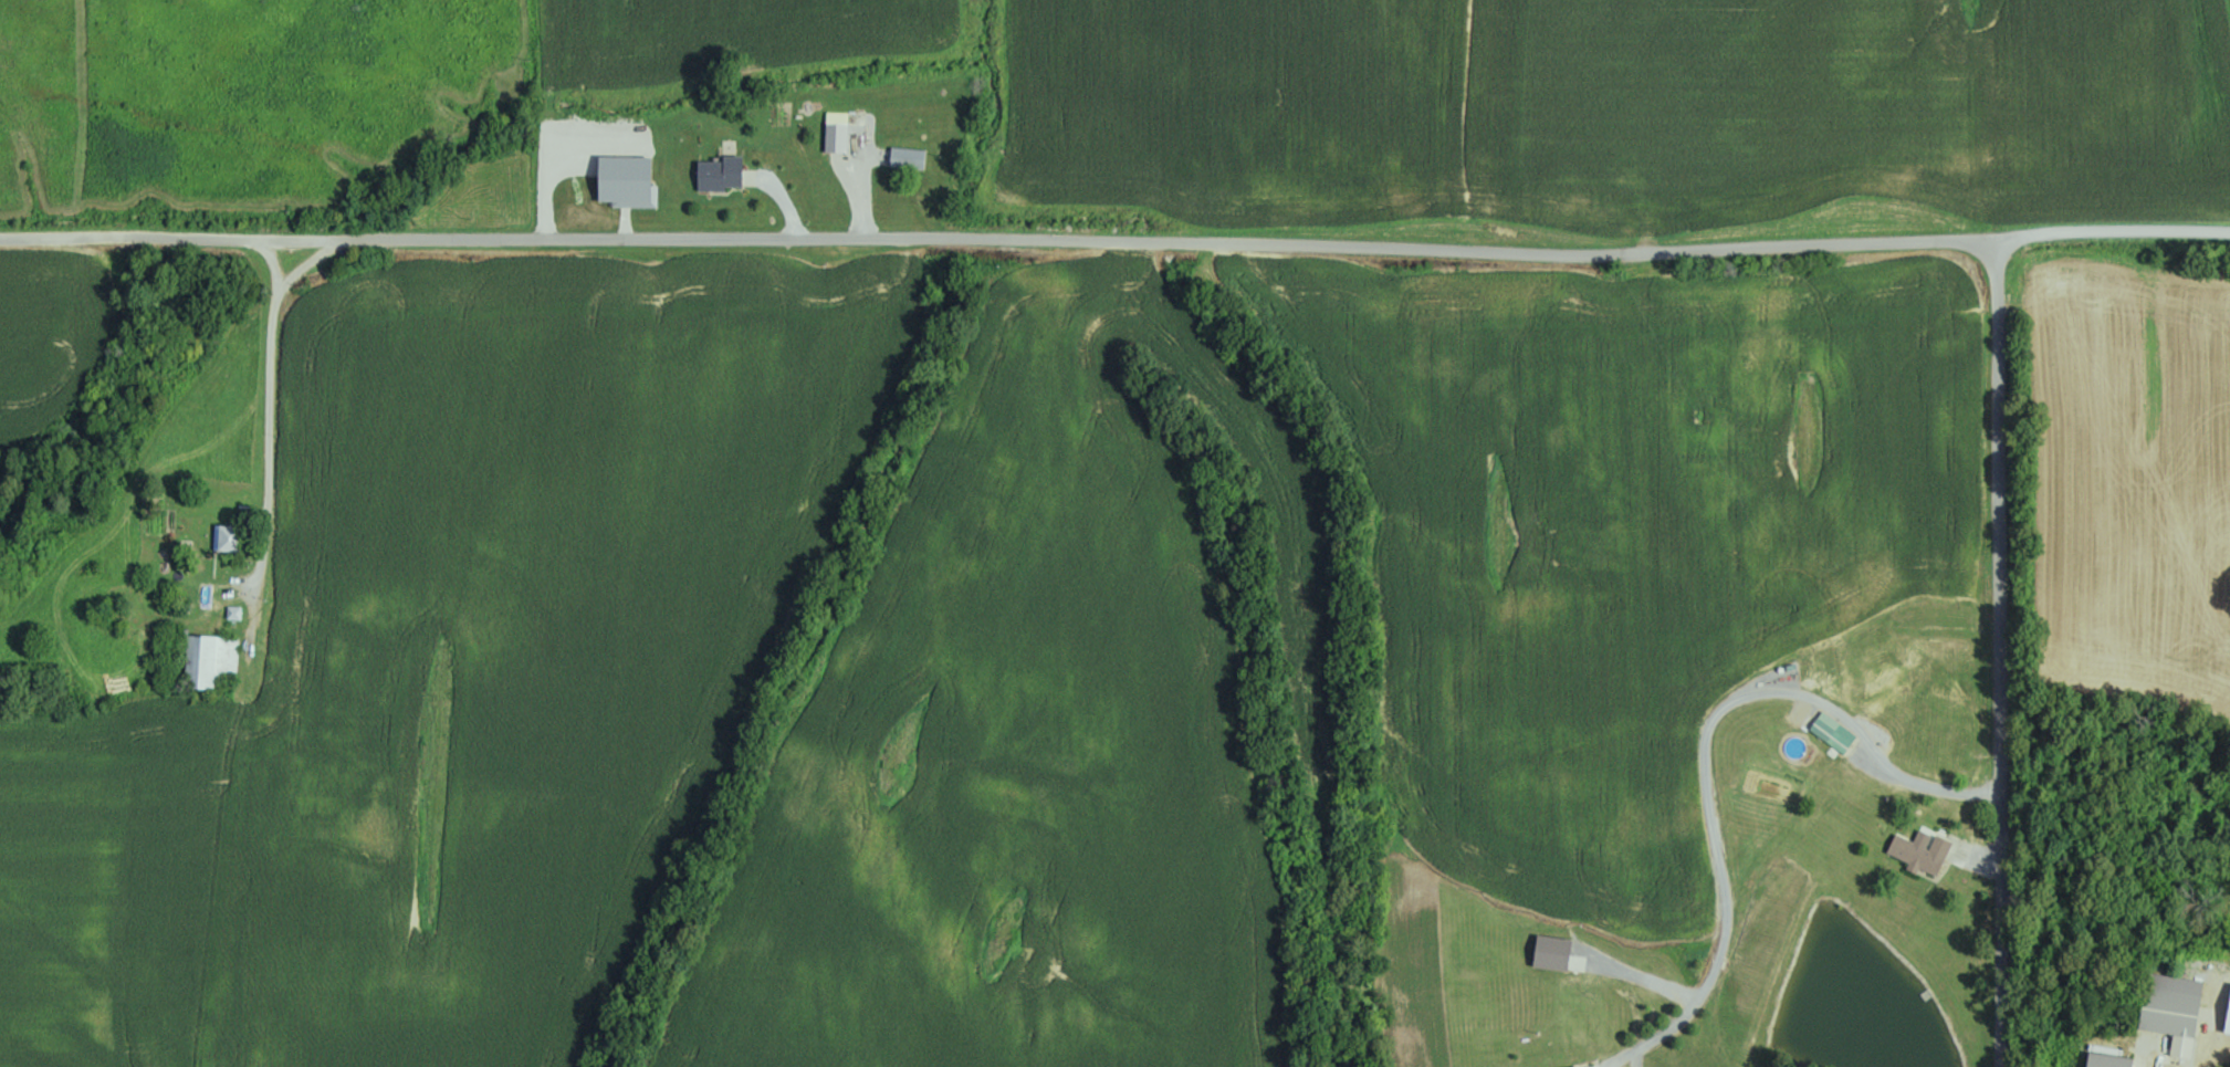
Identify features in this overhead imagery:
building: (840, 134)
building: (907, 158)
building: (718, 174)
building: (1606, 210)
road: (1119, 239)
road: (270, 257)
road: (270, 430)
building: (224, 536)
building: (208, 658)
road: (1999, 659)
building: (1831, 731)
road: (1927, 780)
building: (1919, 852)
building: (2170, 1008)
road: (2211, 1054)
building: (2105, 1059)
building: (1574, 1066)

